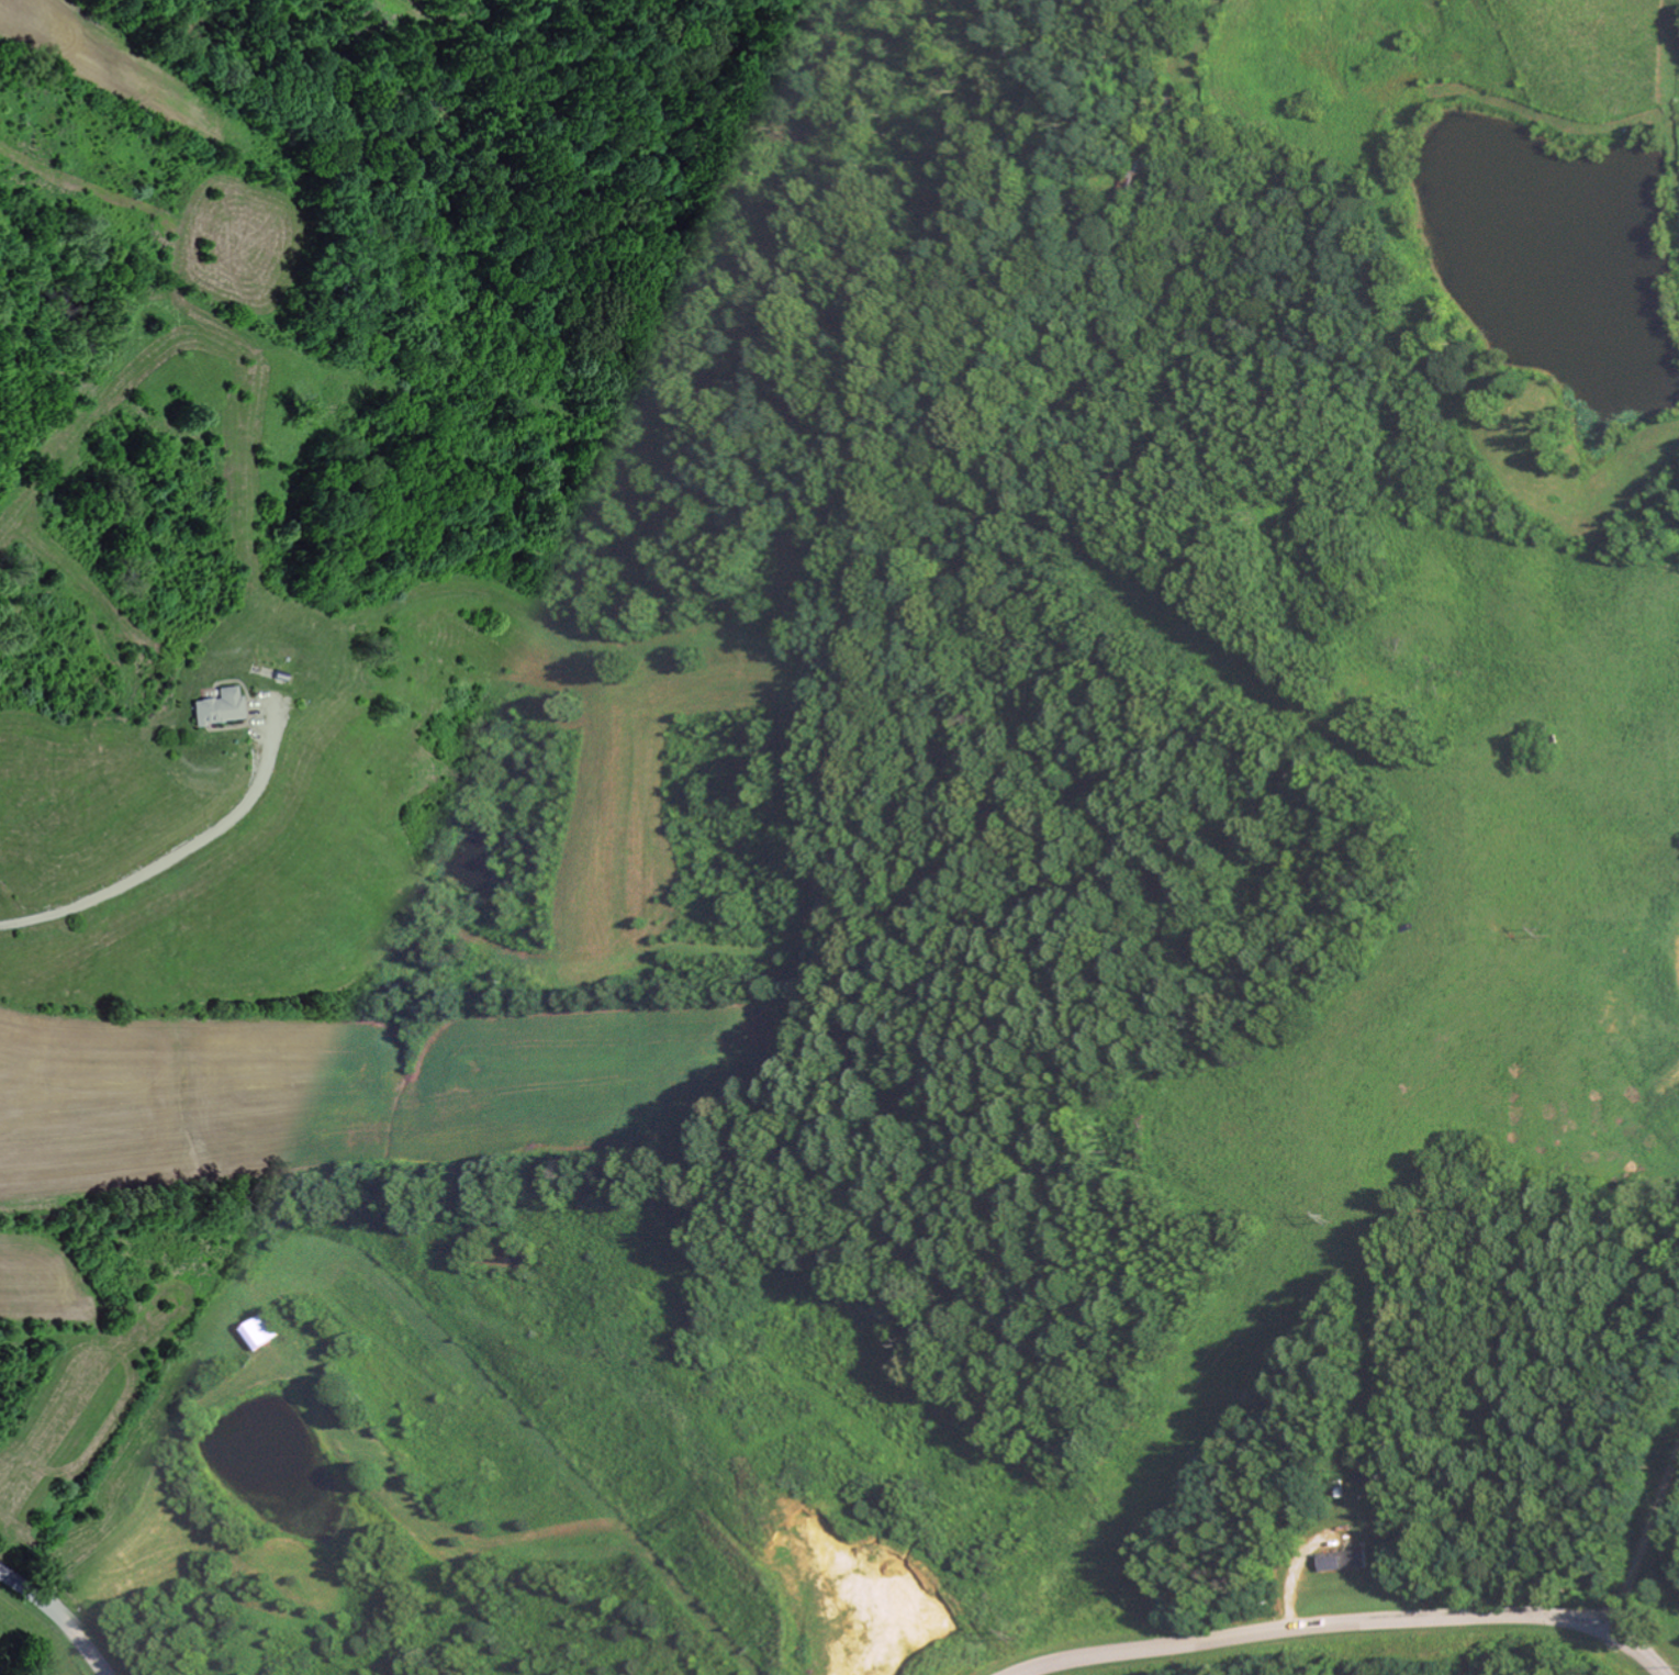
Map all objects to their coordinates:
building: (217, 707)
road: (177, 860)
road: (1649, 1540)
building: (1343, 1560)
road: (60, 1616)
road: (1355, 1618)
road: (1018, 1672)

